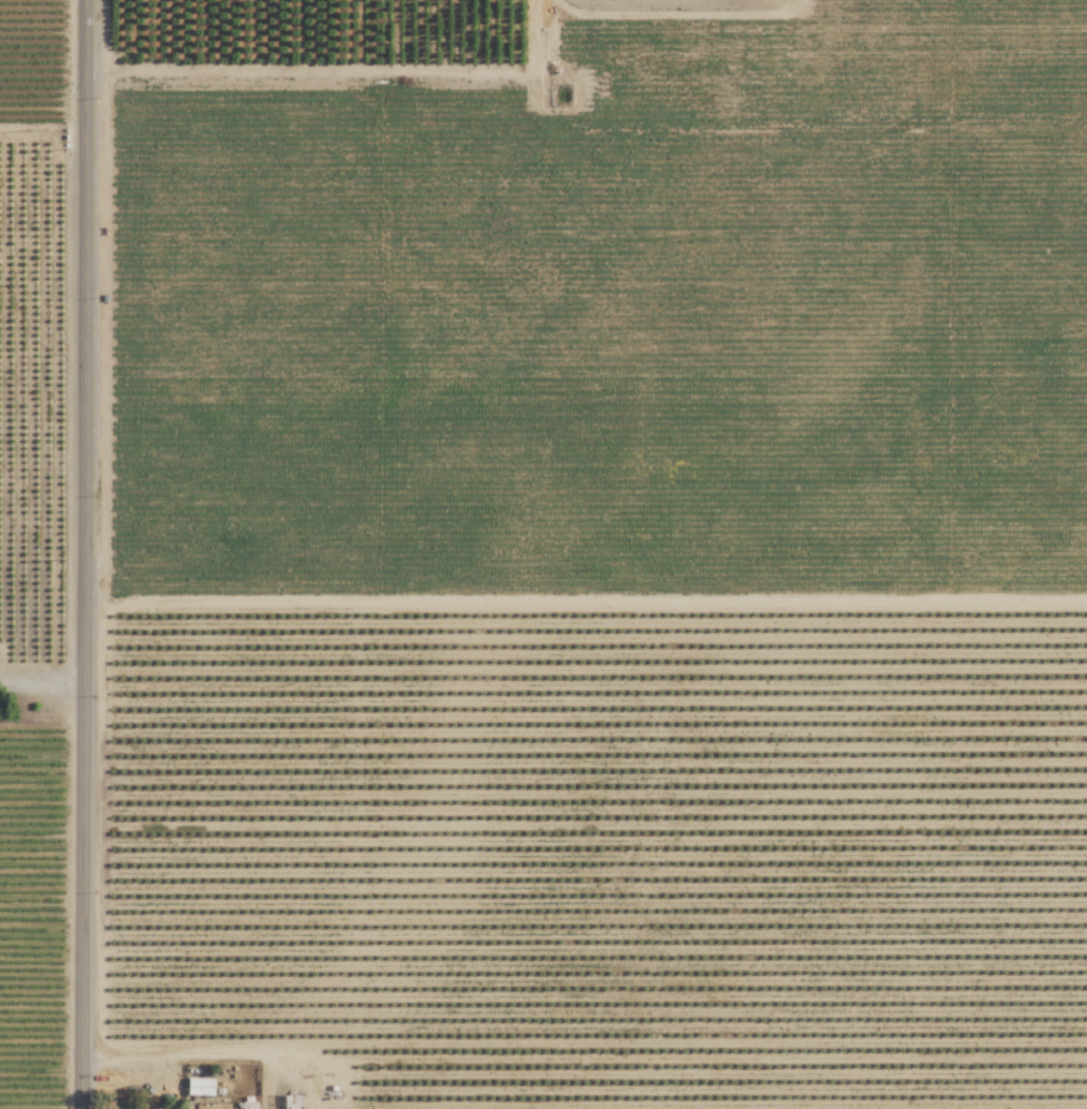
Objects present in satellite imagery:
road: (89, 553)
road: (1, 668)
road: (44, 679)
building: (200, 1087)
building: (291, 1102)
building: (248, 1103)

